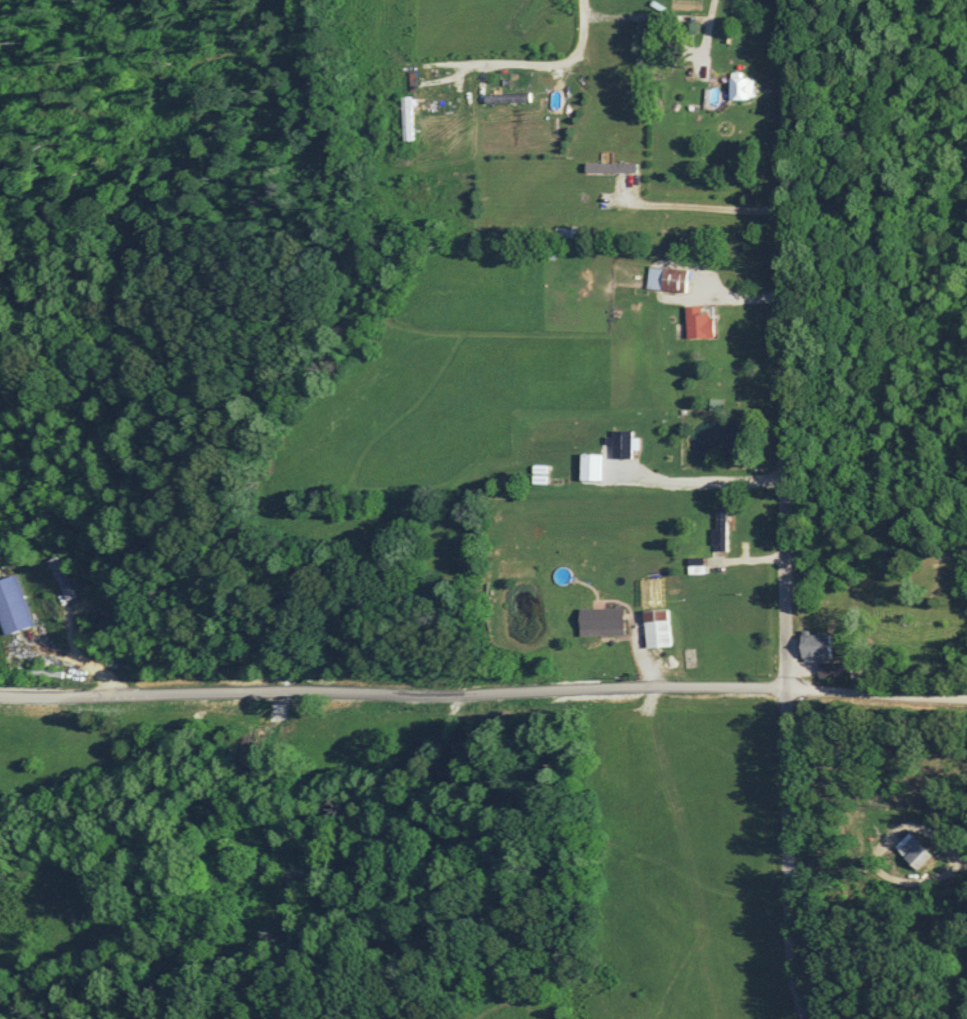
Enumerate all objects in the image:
building: (737, 88)
building: (504, 98)
building: (405, 119)
building: (608, 167)
building: (665, 279)
building: (696, 321)
road: (493, 379)
building: (619, 444)
building: (588, 467)
road: (785, 510)
building: (719, 529)
building: (61, 577)
building: (11, 606)
building: (654, 628)
building: (813, 646)
road: (483, 692)
building: (913, 852)

